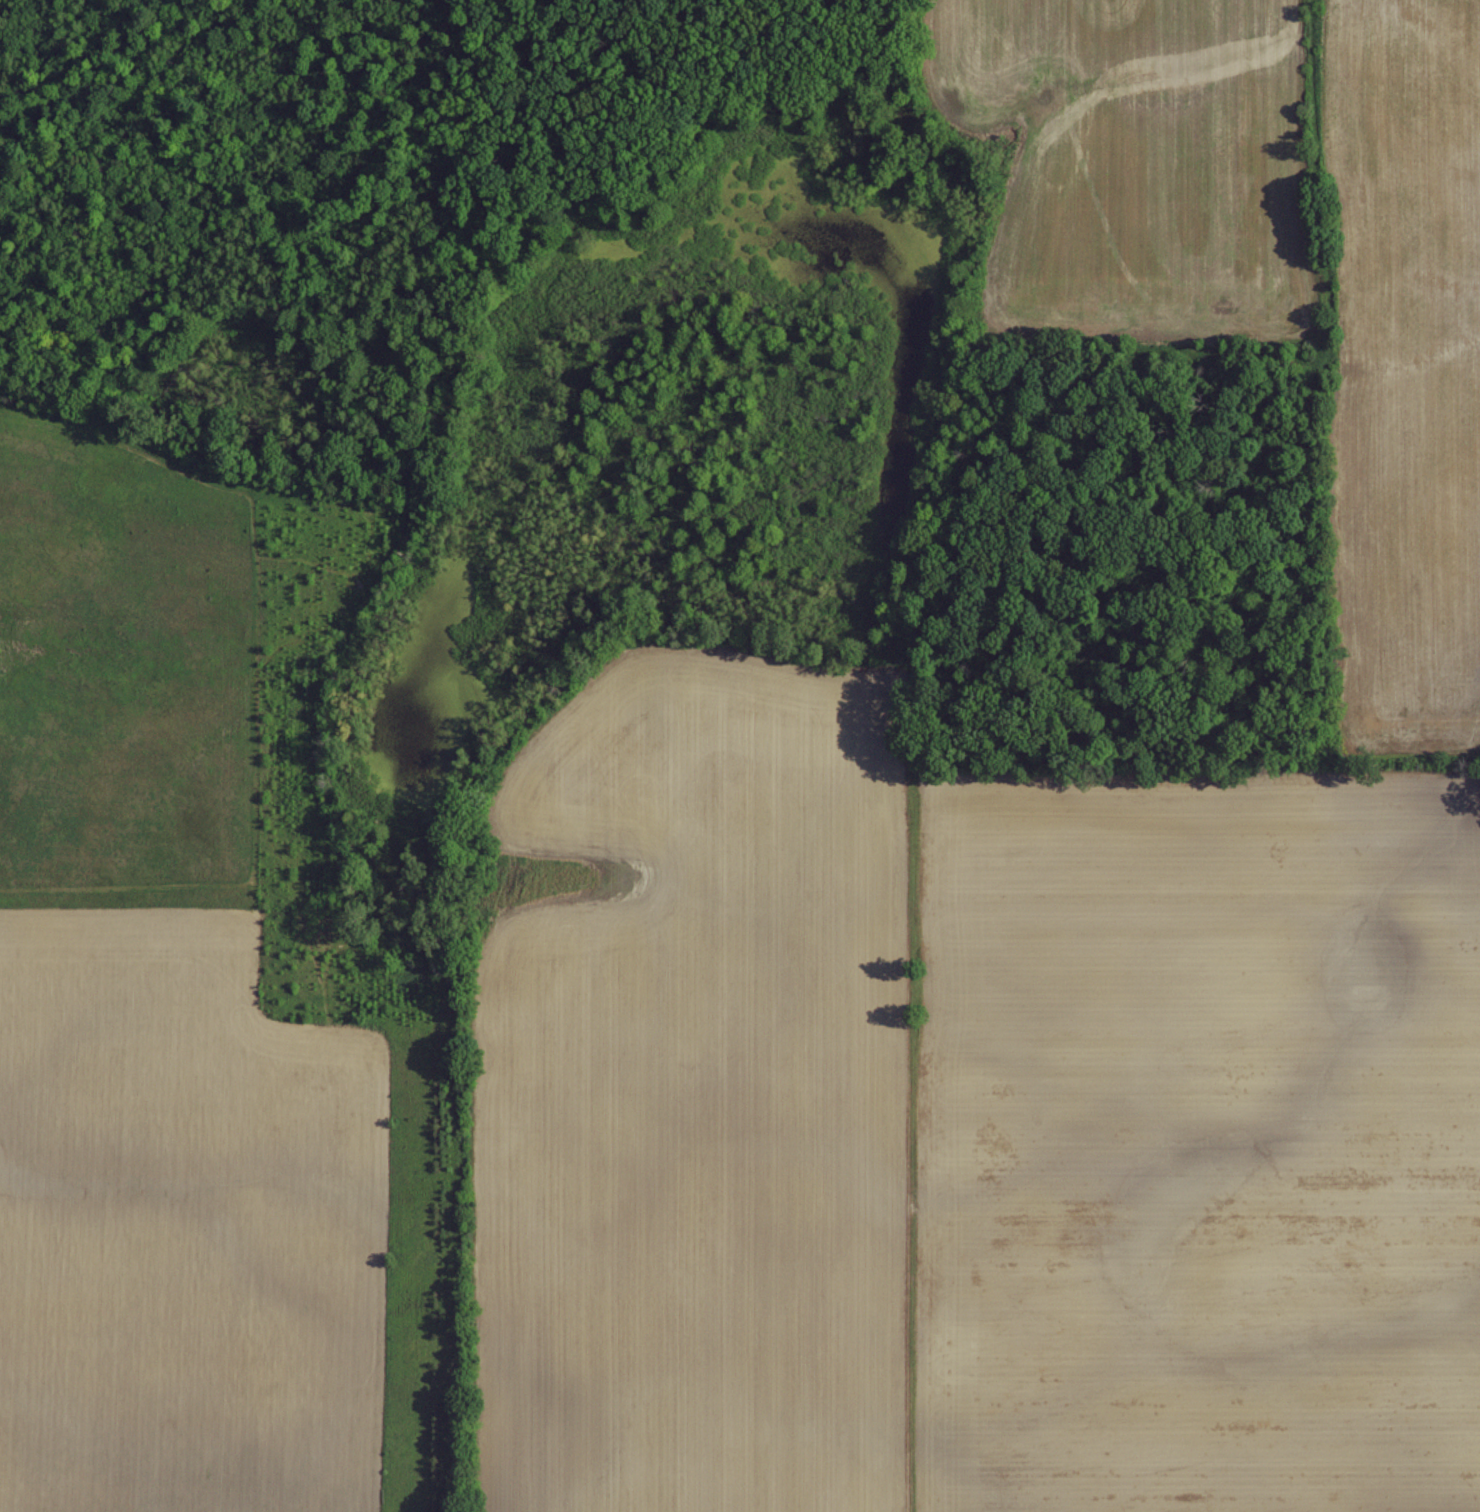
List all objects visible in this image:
crop: (1145, 149)
crop: (1413, 381)
crop: (691, 1087)
crop: (1206, 1139)
crop: (174, 1228)
road: (911, 1275)

